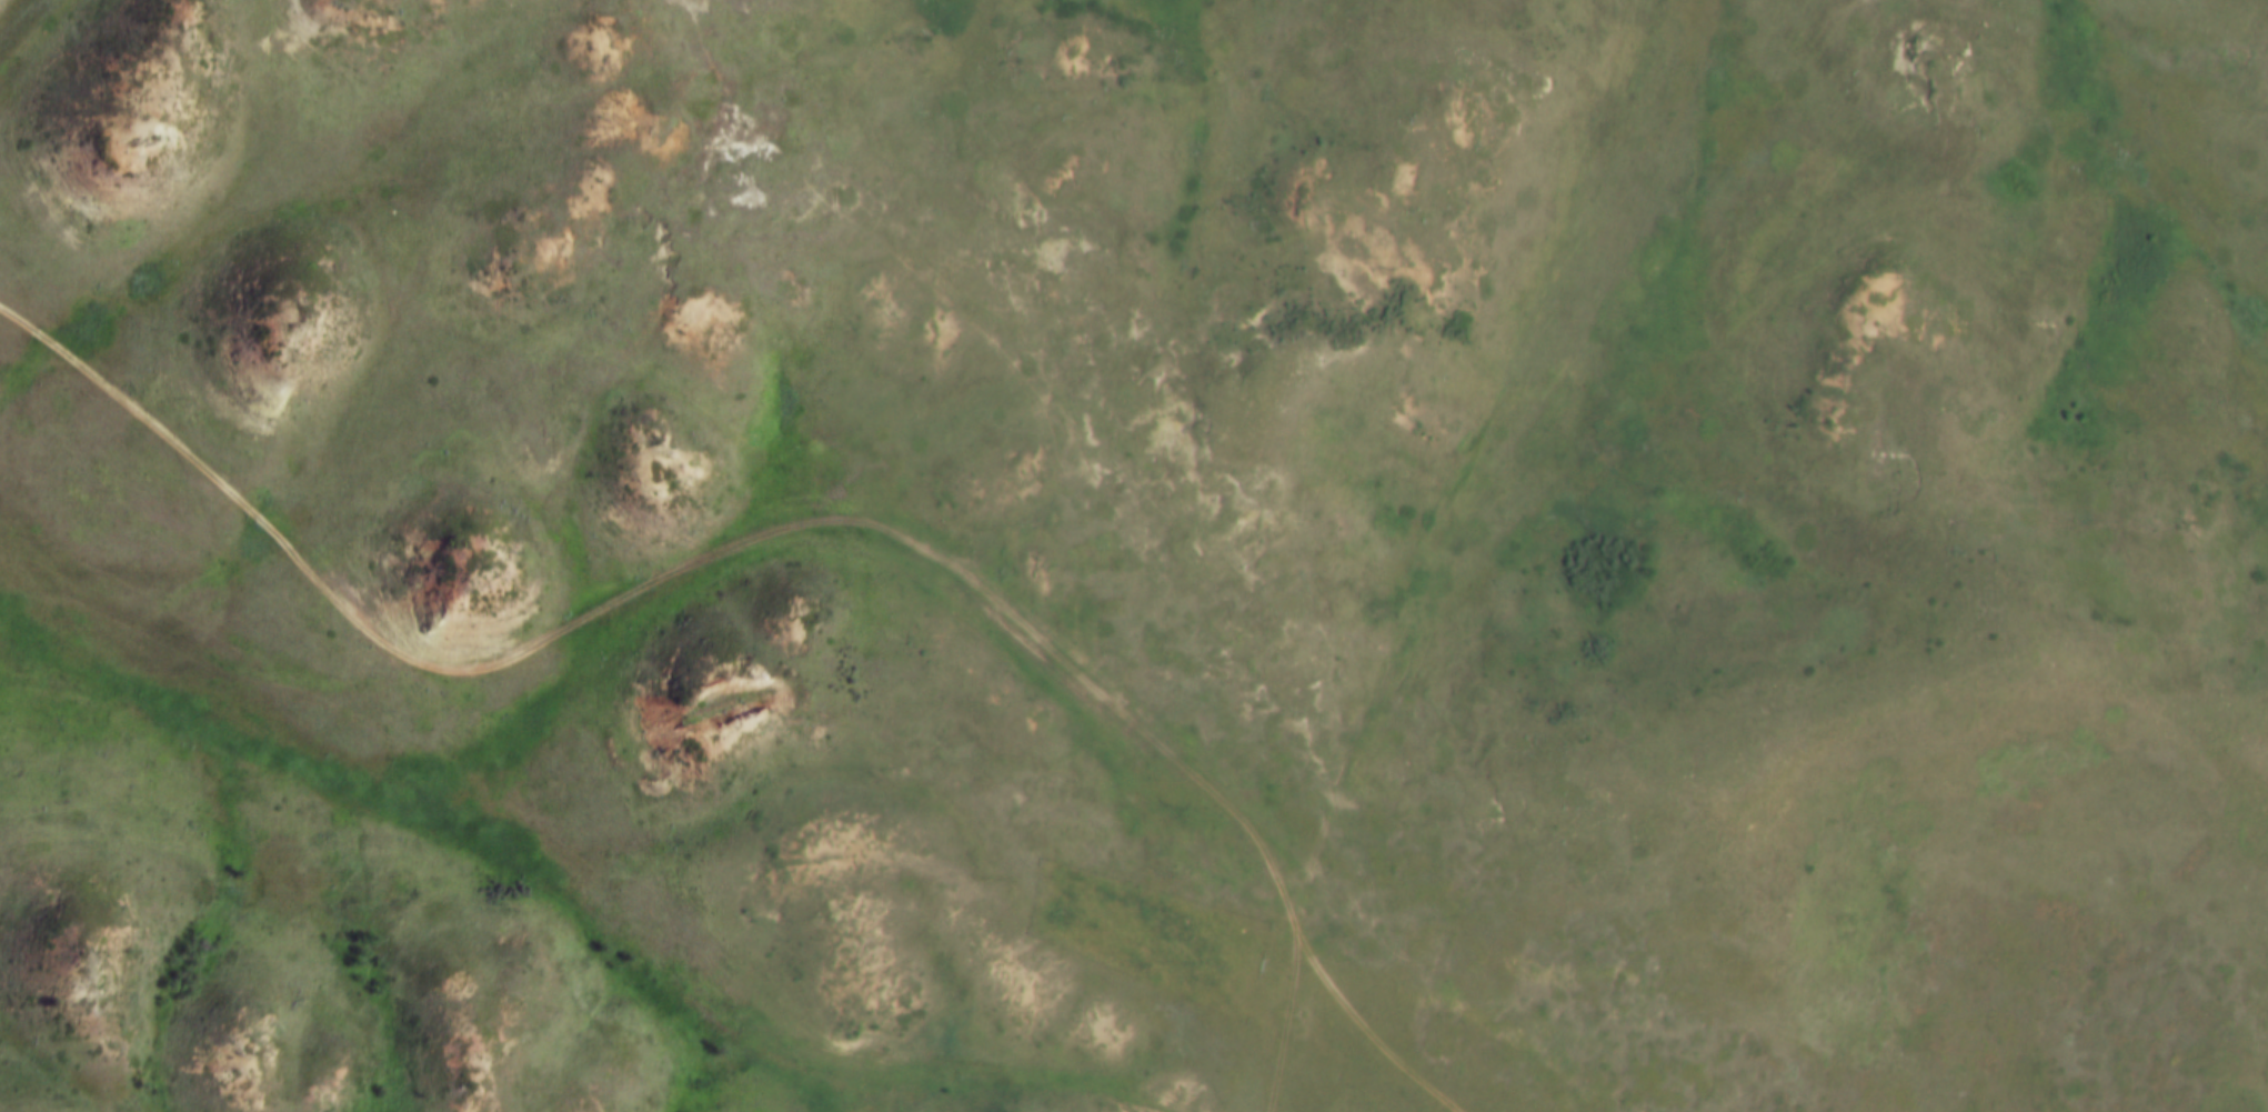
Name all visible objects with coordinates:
road: (776, 535)

